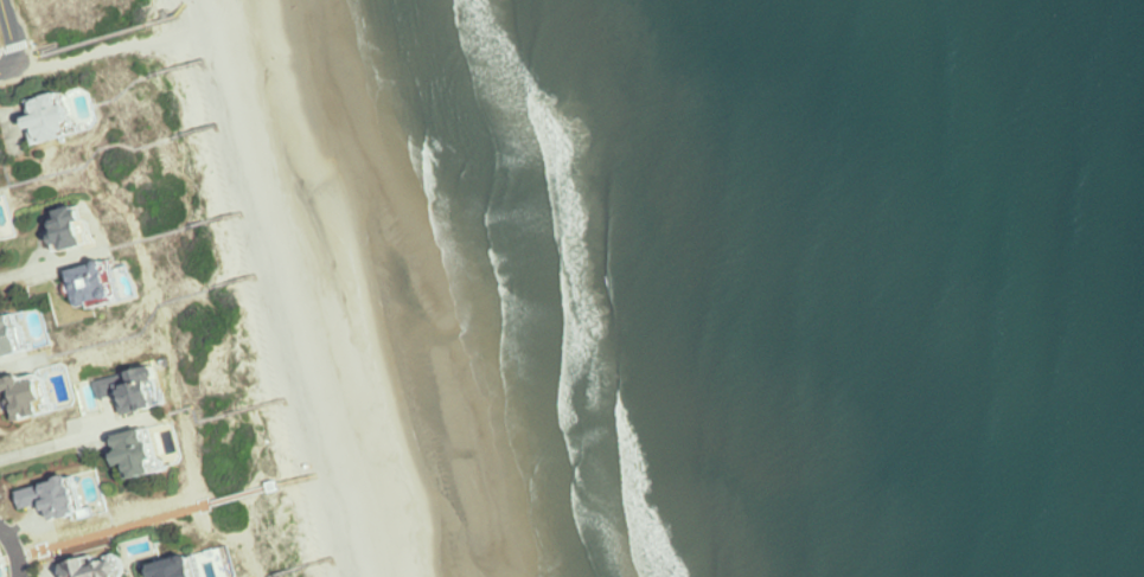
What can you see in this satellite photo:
road: (12, 31)
road: (88, 56)
road: (5, 66)
building: (60, 117)
building: (0, 179)
building: (6, 224)
building: (81, 227)
road: (17, 269)
building: (102, 284)
road: (38, 309)
road: (149, 321)
building: (17, 336)
road: (15, 339)
road: (15, 350)
road: (25, 363)
building: (141, 390)
building: (36, 393)
building: (146, 454)
building: (60, 498)
road: (166, 517)
road: (8, 543)
road: (18, 566)
building: (187, 568)
building: (101, 569)

